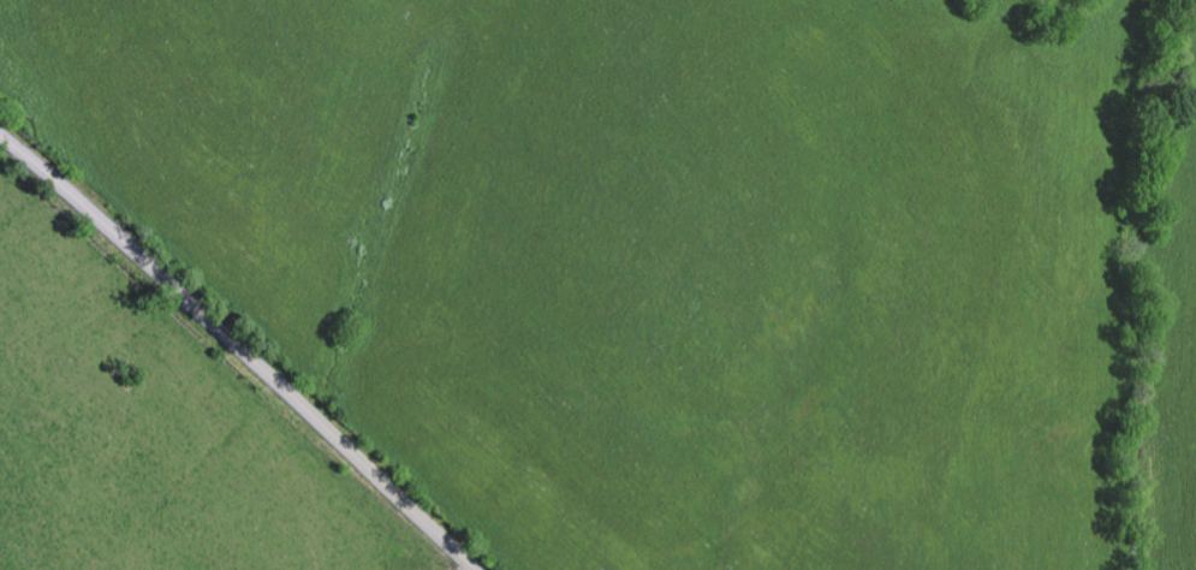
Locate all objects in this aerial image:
road: (242, 349)
road: (472, 568)

